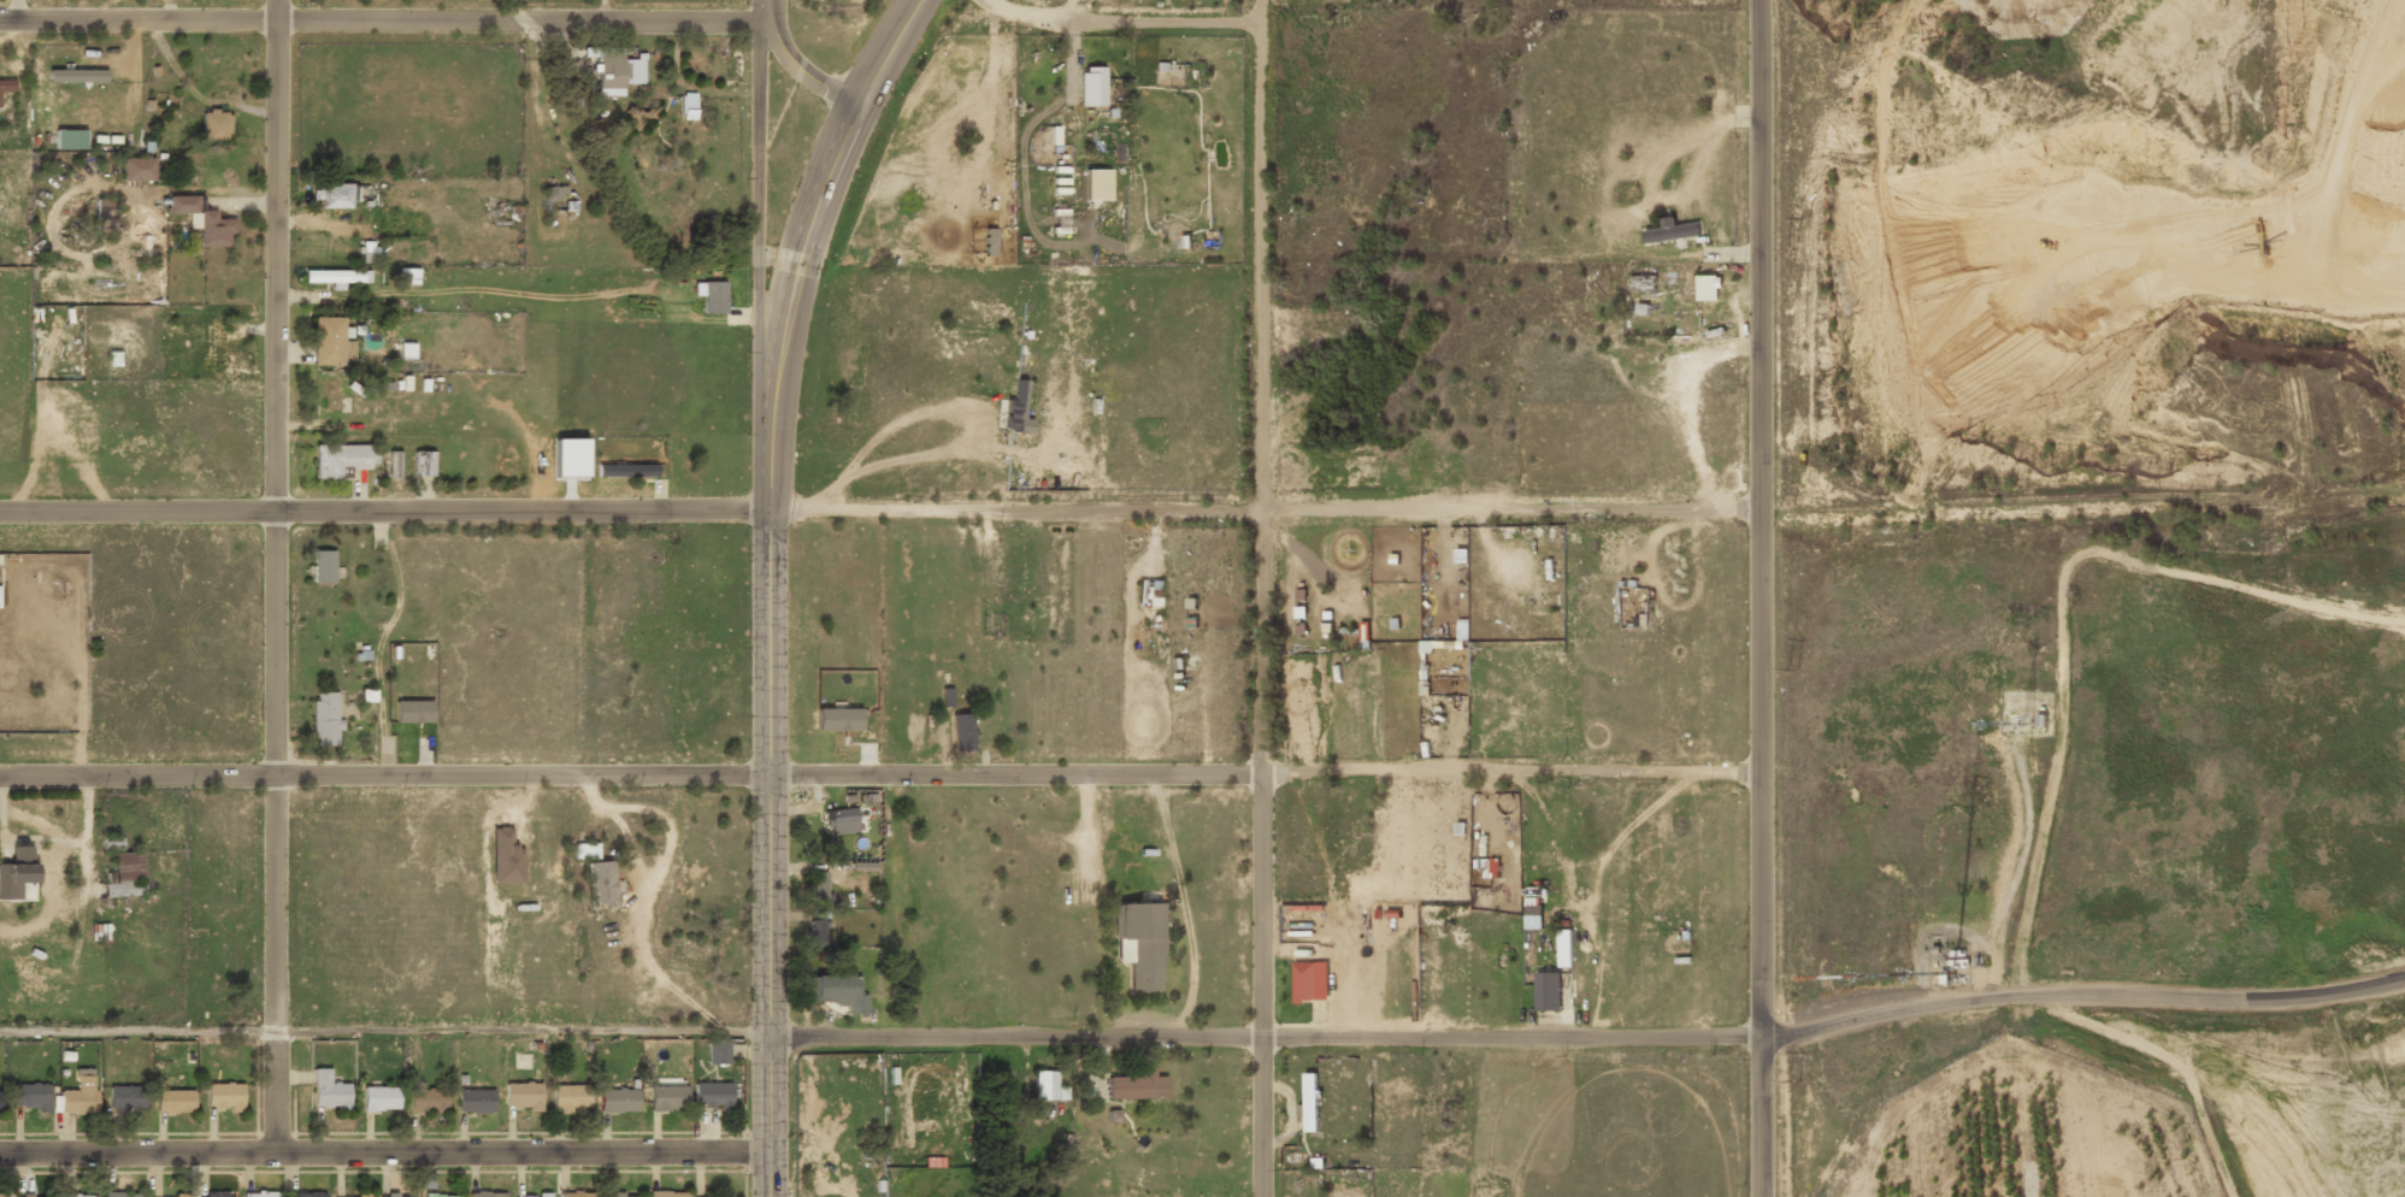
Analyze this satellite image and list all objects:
road: (383, 17)
road: (1373, 20)
road: (888, 49)
road: (795, 64)
building: (609, 72)
building: (5, 85)
building: (1090, 87)
building: (688, 106)
building: (639, 113)
building: (214, 126)
building: (137, 170)
building: (1095, 184)
building: (554, 193)
building: (336, 196)
road: (756, 204)
building: (105, 218)
building: (202, 222)
building: (1673, 232)
road: (802, 240)
building: (988, 241)
power tower: (1793, 250)
building: (369, 252)
building: (407, 276)
building: (334, 277)
building: (1707, 288)
building: (712, 295)
building: (330, 343)
building: (216, 344)
building: (406, 350)
building: (331, 399)
building: (1018, 406)
building: (570, 458)
building: (337, 460)
building: (422, 464)
building: (393, 465)
building: (625, 471)
road: (2082, 503)
road: (879, 508)
building: (322, 567)
road: (273, 576)
building: (1153, 584)
building: (1299, 592)
road: (1261, 598)
road: (1759, 598)
building: (1151, 602)
building: (1191, 602)
building: (1299, 612)
building: (1327, 614)
building: (1192, 623)
building: (1393, 623)
building: (1327, 627)
building: (1299, 629)
building: (1364, 630)
building: (1426, 645)
building: (1179, 662)
power tower: (1793, 667)
building: (947, 697)
building: (412, 712)
building: (324, 719)
building: (838, 719)
building: (2039, 720)
building: (961, 732)
road: (879, 773)
road: (768, 791)
building: (841, 820)
landfill: (2228, 821)
building: (112, 843)
building: (584, 851)
road: (86, 853)
building: (505, 857)
road: (2015, 871)
building: (13, 875)
building: (123, 875)
building: (600, 885)
building: (817, 886)
building: (1533, 909)
building: (815, 931)
building: (99, 933)
building: (1138, 944)
building: (1563, 948)
building: (1956, 953)
building: (1957, 962)
building: (1943, 977)
building: (1304, 981)
building: (1546, 991)
road: (2081, 991)
building: (835, 992)
road: (384, 1031)
road: (1263, 1038)
building: (717, 1051)
power tower: (1793, 1080)
building: (1044, 1085)
building: (1134, 1086)
building: (328, 1091)
building: (521, 1095)
building: (711, 1095)
building: (78, 1096)
building: (223, 1096)
building: (29, 1097)
building: (125, 1097)
building: (570, 1097)
building: (666, 1097)
building: (379, 1098)
building: (426, 1099)
building: (474, 1099)
building: (618, 1099)
building: (1434, 1099)
building: (1309, 1101)
building: (0, 1102)
building: (172, 1102)
road: (384, 1152)
building: (426, 1180)
building: (259, 1193)
building: (485, 1193)
building: (576, 1193)
building: (666, 1193)
building: (0, 1195)
building: (123, 1195)
building: (182, 1195)
building: (305, 1195)
building: (531, 1195)
building: (40, 1196)
building: (77, 1196)
building: (214, 1196)
building: (338, 1196)
building: (396, 1196)
building: (441, 1196)
building: (620, 1196)
building: (709, 1196)

